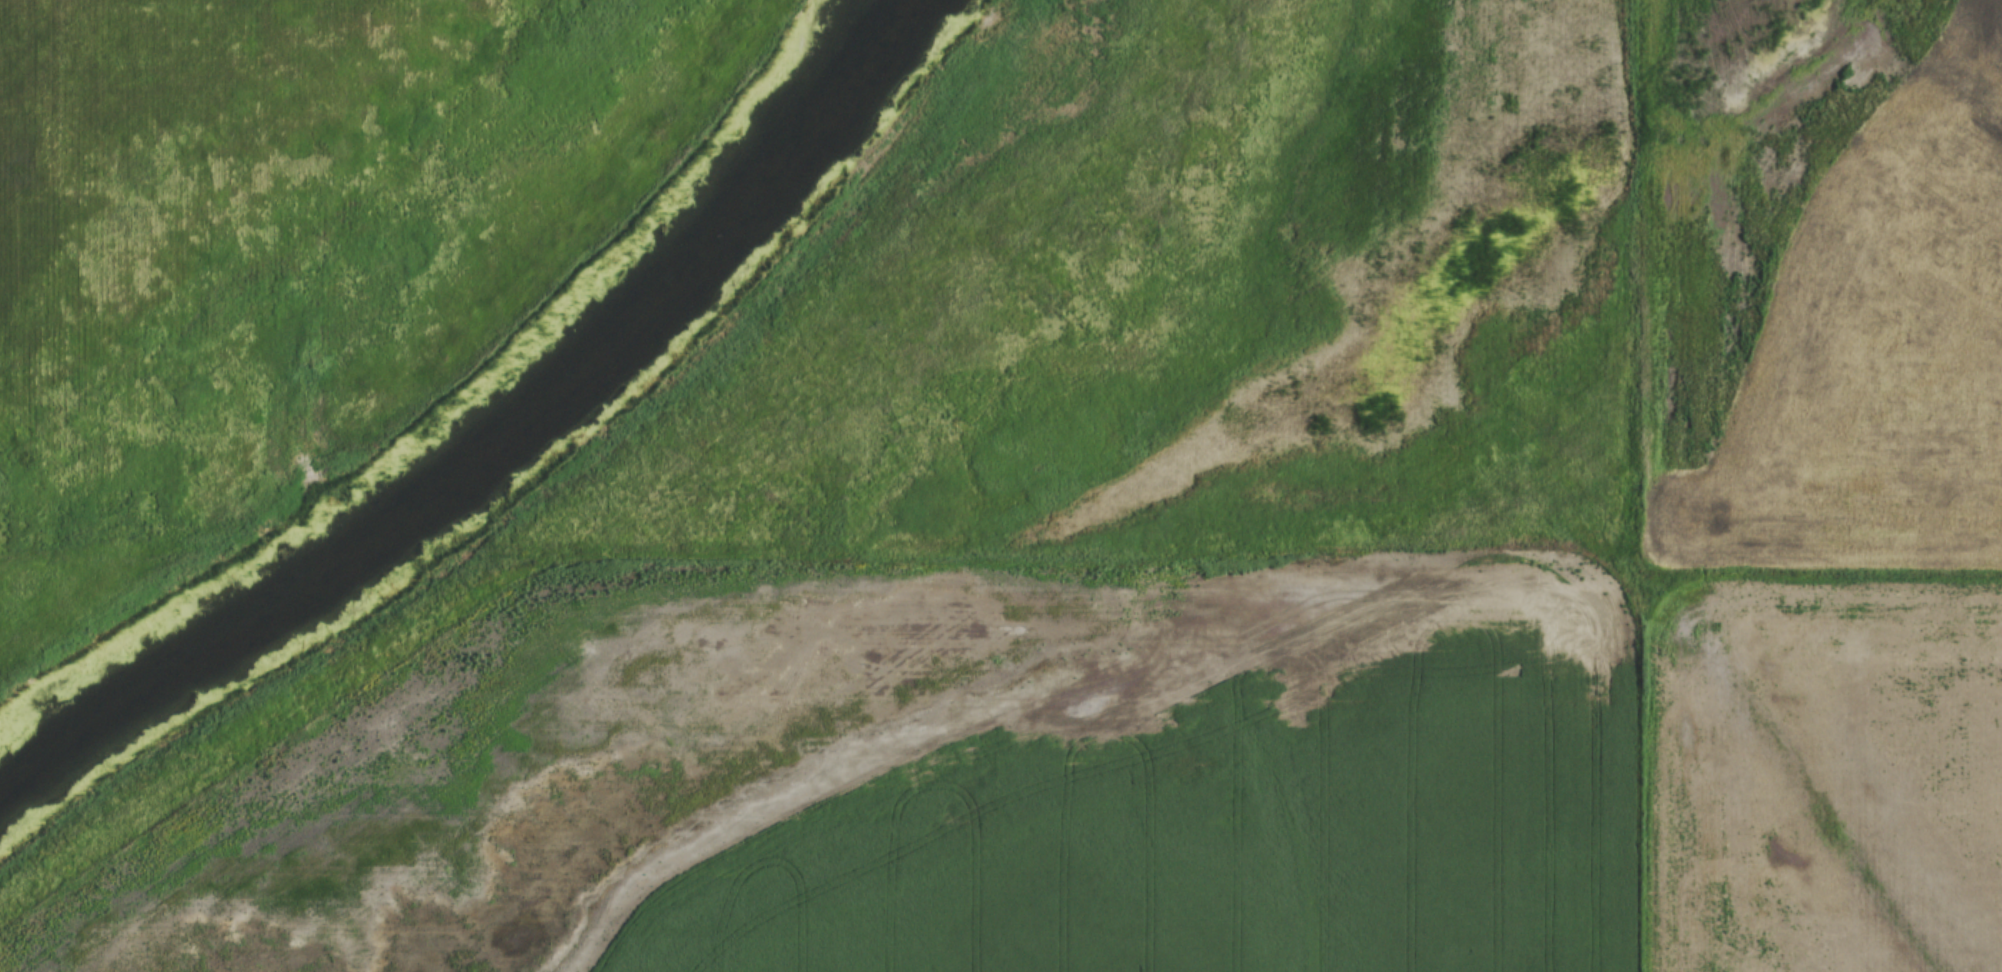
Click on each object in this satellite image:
river: (483, 437)

